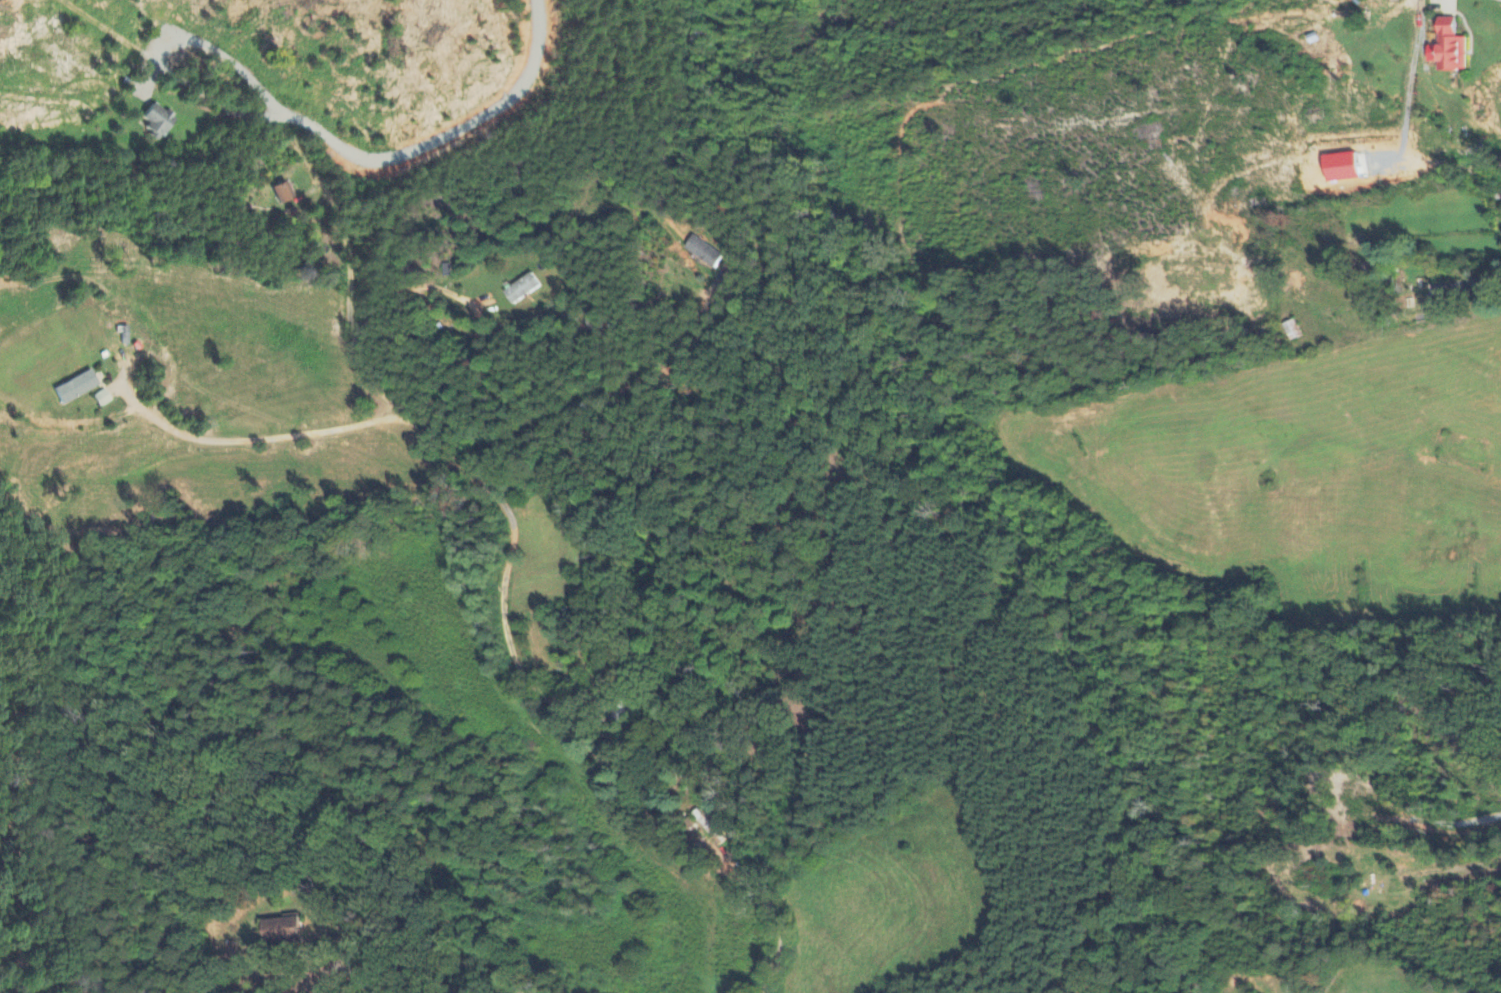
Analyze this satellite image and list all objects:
building: (1448, 48)
building: (156, 122)
road: (372, 163)
building: (1360, 164)
building: (1341, 168)
building: (284, 193)
building: (703, 253)
building: (521, 289)
building: (76, 388)
building: (103, 399)
road: (264, 437)
road: (509, 651)
building: (280, 930)

